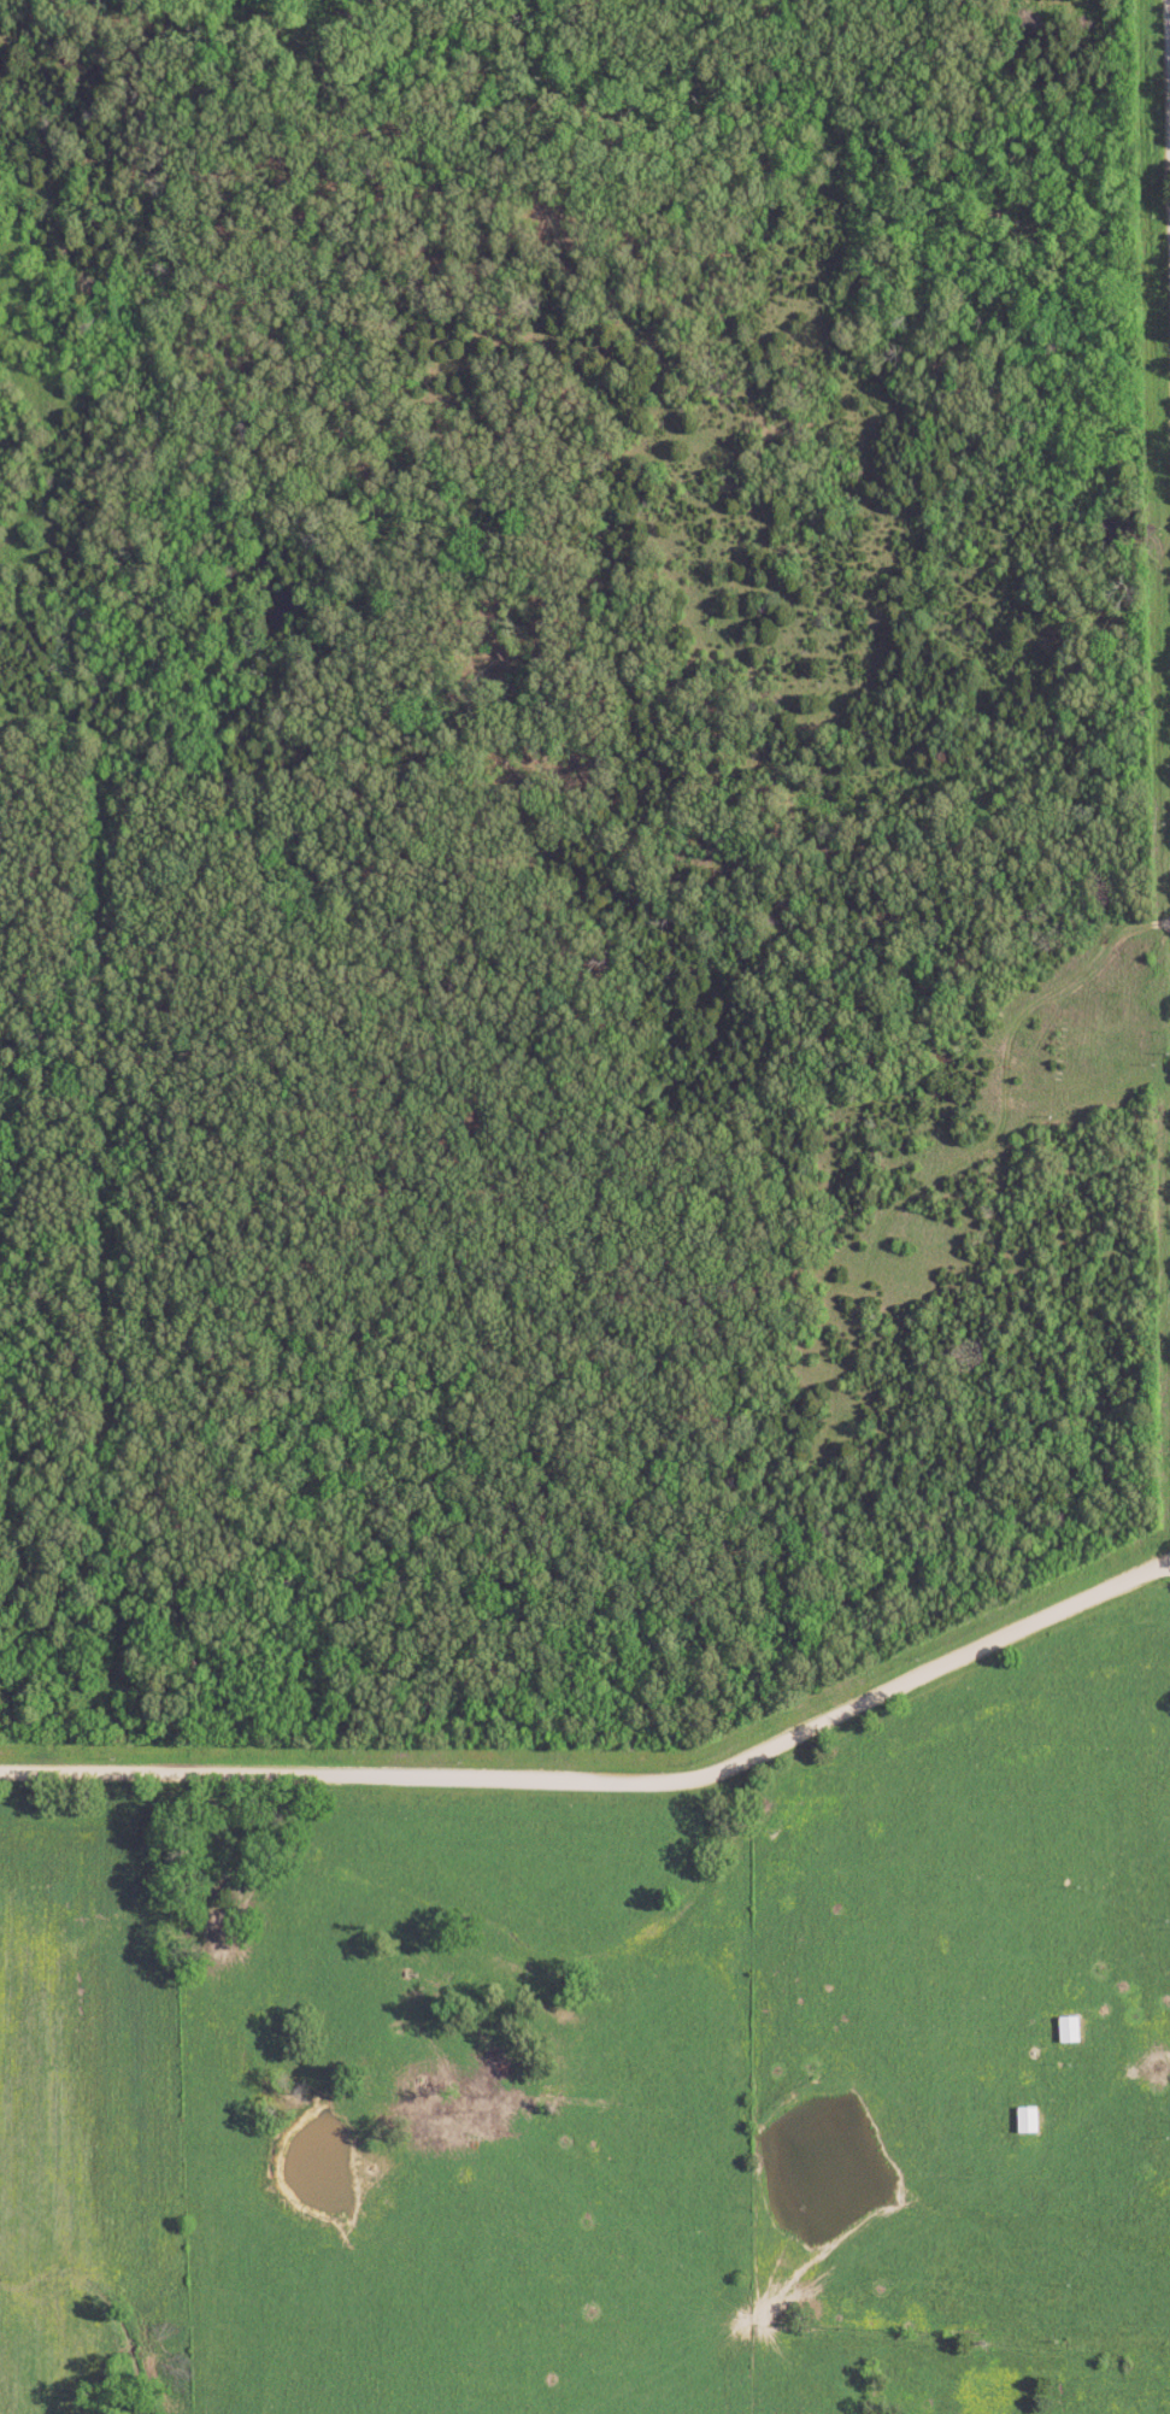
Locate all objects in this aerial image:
road: (1168, 110)
road: (610, 1778)
road: (1124, 2049)

